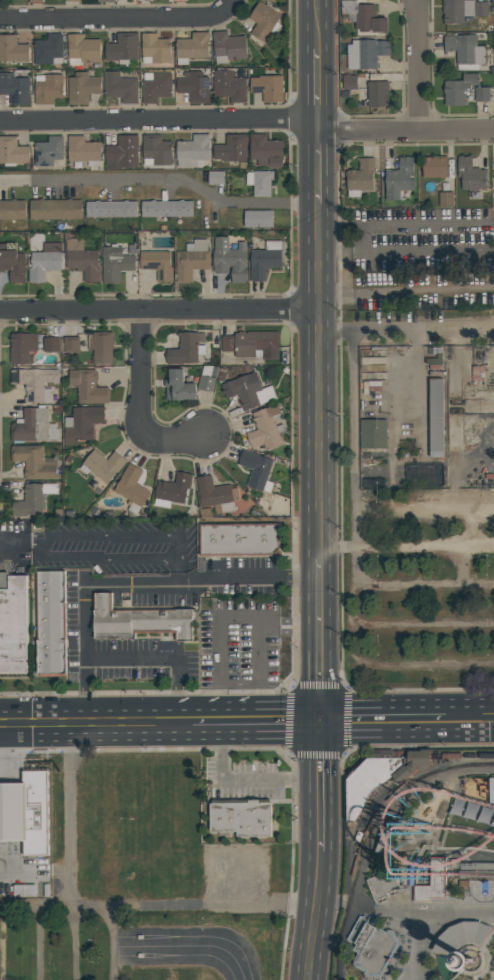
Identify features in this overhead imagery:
building: (143, 0)
building: (177, 0)
building: (35, 1)
building: (72, 1)
building: (106, 1)
building: (481, 9)
building: (457, 10)
building: (363, 16)
road: (118, 19)
building: (264, 21)
road: (317, 24)
building: (192, 47)
building: (228, 47)
building: (122, 48)
building: (12, 49)
building: (82, 49)
building: (155, 49)
building: (48, 50)
building: (465, 51)
building: (366, 53)
road: (417, 63)
building: (349, 82)
road: (319, 83)
building: (229, 85)
building: (194, 86)
building: (120, 87)
building: (155, 87)
building: (14, 88)
building: (48, 88)
building: (82, 88)
building: (268, 88)
building: (459, 88)
building: (374, 93)
building: (481, 94)
road: (160, 119)
road: (320, 124)
road: (455, 127)
road: (368, 128)
building: (231, 148)
building: (48, 150)
building: (84, 150)
building: (156, 150)
building: (266, 150)
building: (12, 151)
building: (192, 151)
building: (122, 153)
building: (434, 166)
road: (320, 167)
building: (470, 174)
building: (216, 177)
building: (360, 177)
building: (399, 178)
building: (260, 182)
road: (162, 184)
building: (445, 199)
building: (111, 208)
building: (166, 208)
building: (55, 209)
building: (12, 210)
building: (258, 218)
road: (394, 251)
building: (82, 259)
building: (230, 259)
building: (192, 260)
building: (265, 260)
building: (45, 261)
building: (13, 263)
building: (115, 263)
building: (157, 264)
road: (408, 292)
road: (161, 311)
road: (408, 333)
building: (71, 344)
building: (252, 344)
street lamp: (378, 344)
street lamp: (491, 344)
building: (51, 345)
building: (22, 347)
building: (100, 347)
building: (185, 349)
building: (434, 361)
road: (415, 378)
building: (206, 380)
road: (321, 382)
building: (35, 383)
building: (178, 386)
building: (88, 387)
building: (248, 391)
road: (142, 399)
street lamp: (379, 416)
building: (435, 419)
street lamp: (489, 420)
building: (81, 424)
building: (33, 426)
building: (265, 429)
building: (373, 433)
building: (33, 461)
building: (104, 465)
building: (256, 470)
building: (424, 476)
building: (131, 485)
building: (172, 490)
building: (216, 495)
street lamp: (379, 496)
road: (354, 497)
building: (32, 499)
building: (238, 539)
road: (101, 543)
road: (337, 548)
road: (424, 548)
road: (320, 567)
street lamp: (380, 567)
road: (242, 578)
road: (424, 586)
parking lot: (421, 599)
road: (85, 607)
building: (137, 620)
building: (51, 622)
road: (424, 625)
building: (14, 626)
street lamp: (491, 645)
street lamp: (296, 647)
street lamp: (381, 648)
road: (319, 649)
road: (162, 658)
road: (423, 667)
street lamp: (341, 679)
road: (289, 690)
street lamp: (284, 691)
street lamp: (484, 691)
street lamp: (392, 692)
road: (467, 720)
road: (378, 721)
road: (94, 722)
road: (253, 723)
traffic signals: (318, 723)
road: (407, 746)
street lamp: (350, 748)
street lamp: (54, 749)
road: (258, 749)
street lamp: (281, 750)
building: (383, 754)
building: (398, 754)
railway: (463, 756)
flagpole: (27, 760)
flagpole: (33, 760)
flagpole: (40, 760)
street lamp: (294, 760)
street lamp: (341, 761)
building: (351, 773)
building: (381, 778)
road: (319, 787)
building: (469, 788)
building: (491, 790)
road: (468, 803)
building: (26, 812)
building: (472, 812)
road: (69, 813)
building: (241, 817)
street lamp: (128, 819)
road: (448, 823)
railway: (368, 832)
building: (358, 838)
storage tank: (358, 838)
road: (349, 845)
road: (454, 849)
building: (384, 853)
building: (477, 867)
theme park: (419, 868)
road: (410, 869)
road: (412, 871)
building: (437, 872)
building: (378, 874)
building: (411, 877)
road: (342, 878)
parking lot: (144, 882)
road: (237, 883)
building: (463, 884)
building: (383, 885)
building: (46, 890)
park: (481, 890)
building: (25, 891)
building: (428, 893)
road: (347, 902)
street lamp: (477, 903)
street lamp: (489, 903)
road: (158, 906)
road: (315, 916)
street lamp: (292, 920)
street lamp: (205, 922)
road: (425, 927)
building: (462, 937)
road: (486, 938)
road: (486, 940)
road: (340, 941)
road: (2, 943)
road: (41, 943)
road: (77, 943)
road: (113, 943)
building: (493, 943)
road: (493, 944)
road: (187, 946)
road: (492, 946)
toll booth: (139, 947)
road: (477, 948)
road: (478, 948)
road: (477, 949)
building: (376, 952)
road: (489, 959)
building: (470, 960)
road: (458, 963)
road: (486, 963)
road: (456, 964)
road: (460, 966)
park: (446, 968)
road: (467, 974)
road: (477, 978)

